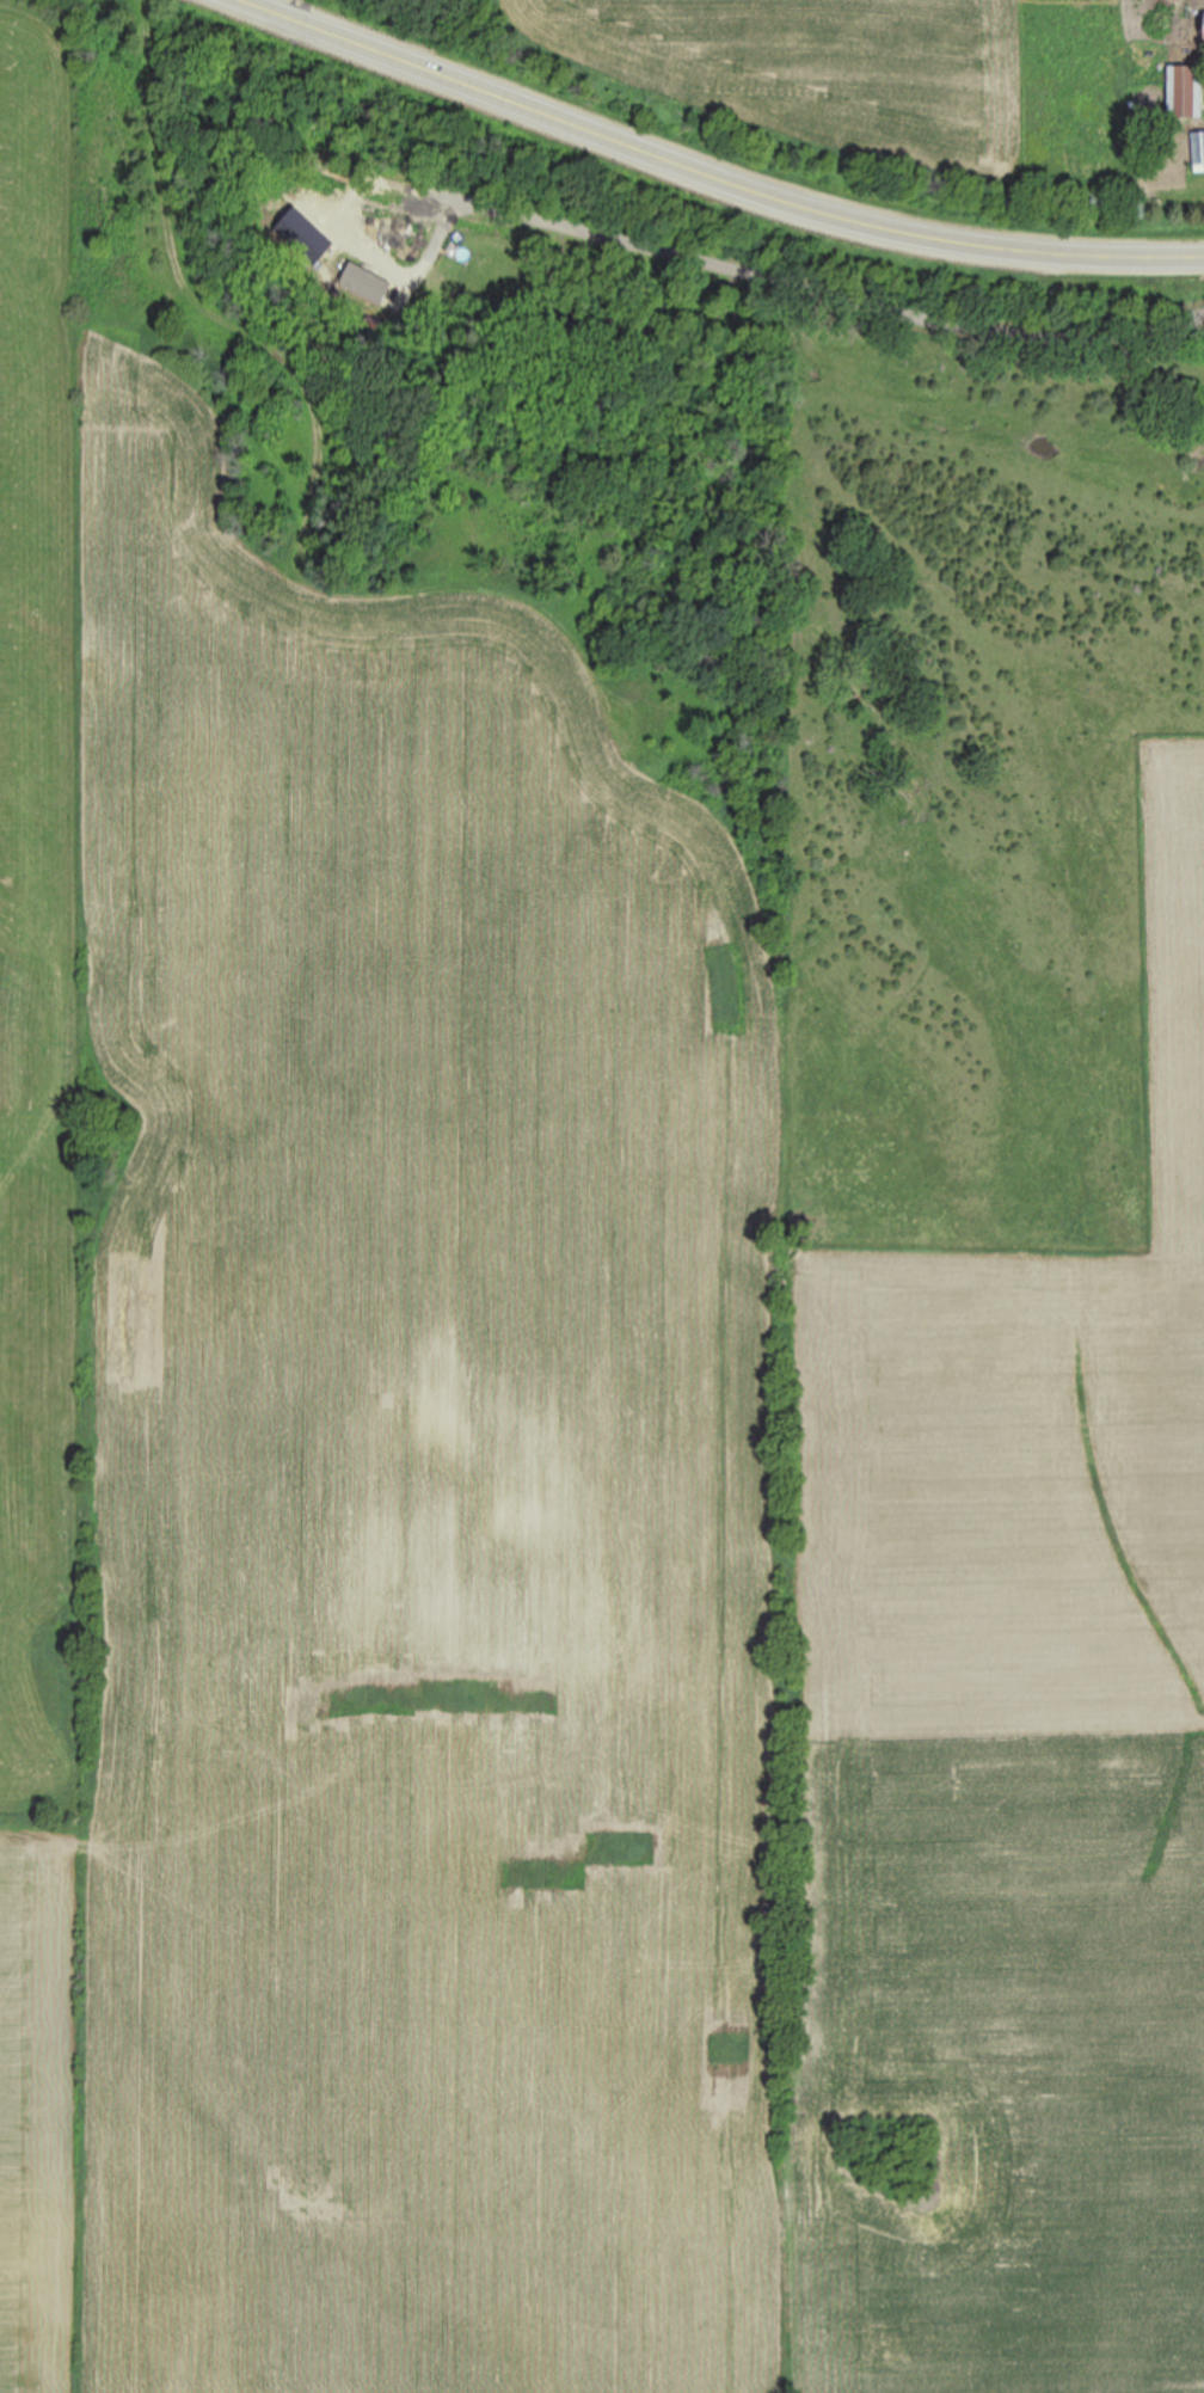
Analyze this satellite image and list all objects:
building: (1185, 92)
building: (1198, 148)
road: (706, 177)
road: (810, 294)
crop: (600, 1415)

